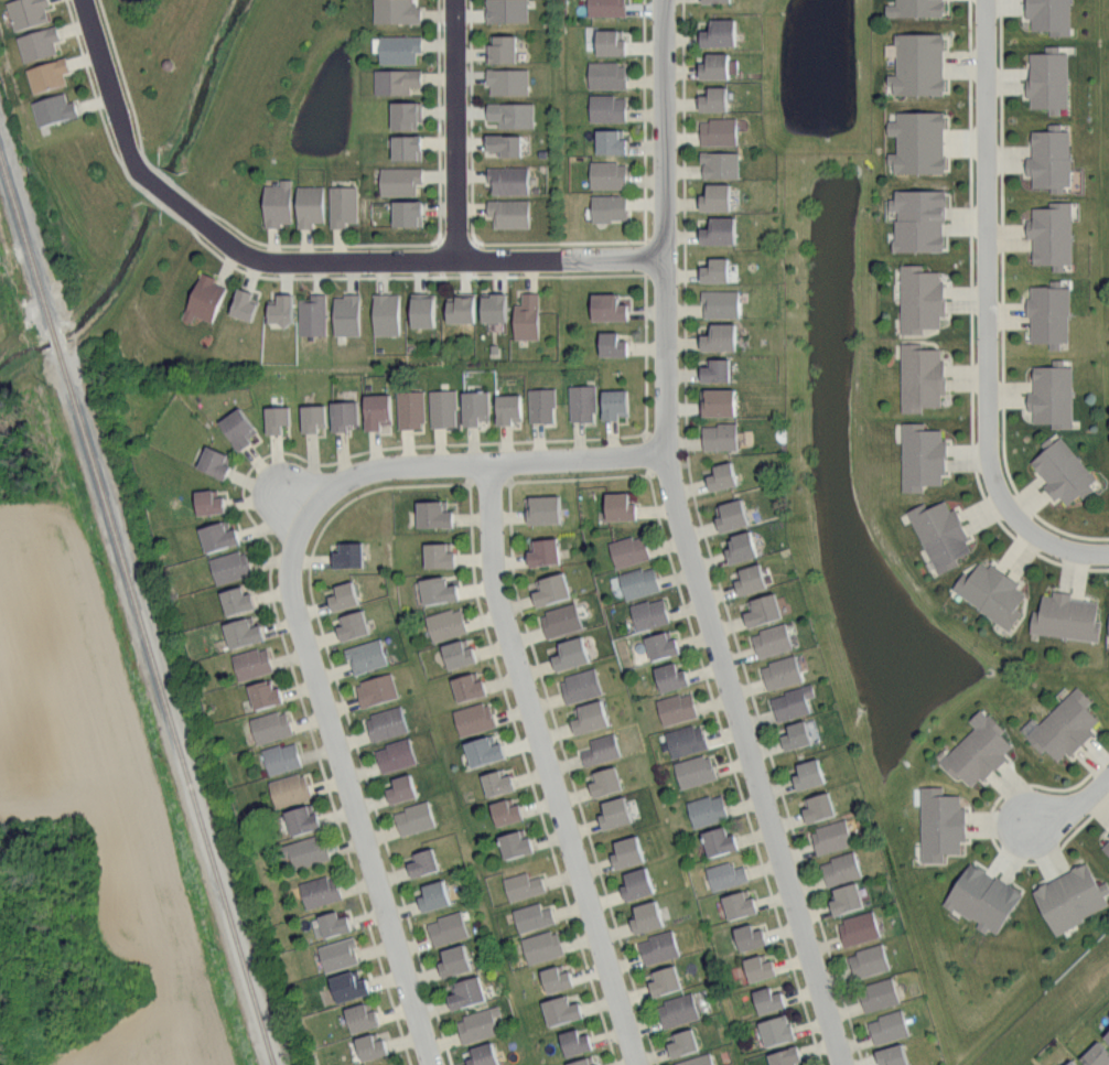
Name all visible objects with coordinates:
building: (718, 1)
building: (607, 8)
building: (917, 8)
building: (508, 10)
building: (397, 11)
building: (29, 12)
building: (1051, 15)
building: (721, 33)
building: (611, 41)
building: (40, 43)
building: (400, 49)
building: (505, 49)
building: (169, 63)
building: (919, 64)
building: (717, 66)
building: (50, 74)
building: (607, 75)
building: (1049, 79)
building: (397, 80)
building: (508, 80)
road: (109, 86)
park: (232, 87)
building: (715, 99)
building: (55, 108)
building: (609, 108)
building: (513, 114)
building: (406, 115)
road: (440, 119)
road: (645, 119)
road: (472, 123)
road: (454, 130)
building: (720, 131)
building: (612, 141)
building: (919, 142)
building: (507, 143)
building: (407, 147)
building: (1051, 158)
building: (721, 164)
building: (609, 174)
building: (510, 180)
building: (400, 181)
road: (163, 189)
building: (718, 197)
building: (279, 204)
building: (312, 205)
building: (344, 205)
building: (610, 207)
road: (207, 209)
building: (408, 213)
building: (510, 213)
building: (920, 219)
building: (721, 230)
building: (1053, 234)
road: (685, 235)
road: (561, 241)
road: (416, 260)
building: (717, 270)
road: (274, 278)
building: (922, 298)
building: (206, 299)
road: (1003, 301)
building: (722, 302)
building: (245, 304)
building: (496, 306)
building: (610, 306)
building: (423, 309)
building: (463, 309)
building: (282, 310)
building: (387, 313)
building: (1051, 313)
building: (348, 314)
road: (984, 314)
building: (314, 315)
building: (528, 316)
road: (971, 324)
building: (721, 337)
building: (614, 344)
road: (646, 355)
building: (717, 369)
building: (923, 377)
building: (1054, 395)
building: (720, 400)
building: (583, 402)
building: (616, 404)
building: (542, 405)
building: (444, 407)
building: (411, 408)
building: (476, 408)
building: (509, 409)
building: (379, 410)
building: (346, 415)
building: (315, 417)
building: (278, 418)
building: (239, 428)
building: (721, 437)
building: (923, 456)
building: (216, 461)
road: (480, 462)
building: (1064, 471)
road: (581, 476)
building: (723, 476)
road: (292, 501)
building: (209, 502)
building: (621, 506)
building: (545, 508)
building: (435, 514)
building: (732, 515)
building: (941, 534)
building: (219, 536)
road: (683, 542)
building: (742, 547)
building: (629, 550)
building: (545, 551)
building: (349, 555)
building: (441, 555)
building: (232, 566)
road: (271, 569)
building: (752, 579)
building: (640, 582)
building: (552, 589)
building: (439, 590)
building: (992, 592)
railway: (141, 593)
building: (345, 595)
building: (238, 600)
building: (764, 610)
building: (650, 613)
building: (1068, 617)
building: (562, 620)
building: (1108, 623)
building: (446, 624)
building: (353, 625)
building: (245, 632)
building: (773, 639)
building: (663, 645)
building: (460, 653)
building: (572, 653)
building: (368, 655)
building: (254, 663)
building: (783, 671)
building: (672, 677)
building: (582, 685)
building: (470, 687)
building: (378, 689)
building: (266, 693)
building: (794, 702)
building: (677, 708)
road: (347, 716)
building: (591, 717)
building: (475, 718)
building: (388, 723)
building: (1066, 725)
building: (271, 727)
building: (811, 729)
building: (798, 735)
building: (687, 740)
building: (485, 750)
building: (602, 750)
building: (979, 751)
building: (396, 754)
building: (282, 757)
road: (774, 764)
road: (547, 765)
road: (734, 770)
building: (696, 771)
road: (571, 774)
building: (810, 774)
road: (530, 776)
building: (606, 781)
building: (498, 782)
road: (346, 788)
building: (291, 789)
building: (402, 789)
building: (819, 807)
road: (1073, 807)
building: (708, 809)
building: (508, 810)
building: (616, 813)
building: (416, 817)
building: (303, 820)
building: (941, 822)
road: (992, 829)
building: (832, 837)
building: (720, 840)
building: (517, 843)
building: (1107, 847)
building: (304, 851)
building: (629, 851)
building: (424, 862)
building: (1108, 863)
building: (842, 868)
building: (726, 874)
building: (638, 883)
building: (525, 885)
building: (321, 891)
building: (435, 895)
building: (984, 897)
building: (1072, 897)
building: (847, 899)
building: (741, 904)
building: (534, 916)
building: (648, 917)
building: (335, 923)
building: (449, 928)
building: (860, 928)
building: (751, 937)
building: (542, 946)
building: (659, 947)
building: (340, 954)
building: (455, 960)
building: (870, 960)
building: (761, 967)
building: (557, 978)
building: (666, 980)
building: (351, 986)
building: (467, 992)
building: (881, 994)
building: (769, 1000)
building: (562, 1010)
building: (679, 1010)
building: (363, 1016)
building: (480, 1024)
building: (890, 1026)
building: (778, 1031)
building: (1108, 1034)
building: (577, 1041)
building: (683, 1043)
building: (373, 1046)
building: (485, 1055)
building: (894, 1055)
building: (1097, 1055)
building: (787, 1056)
building: (698, 1061)
building: (585, 1062)
building: (1073, 1063)
building: (387, 1064)

